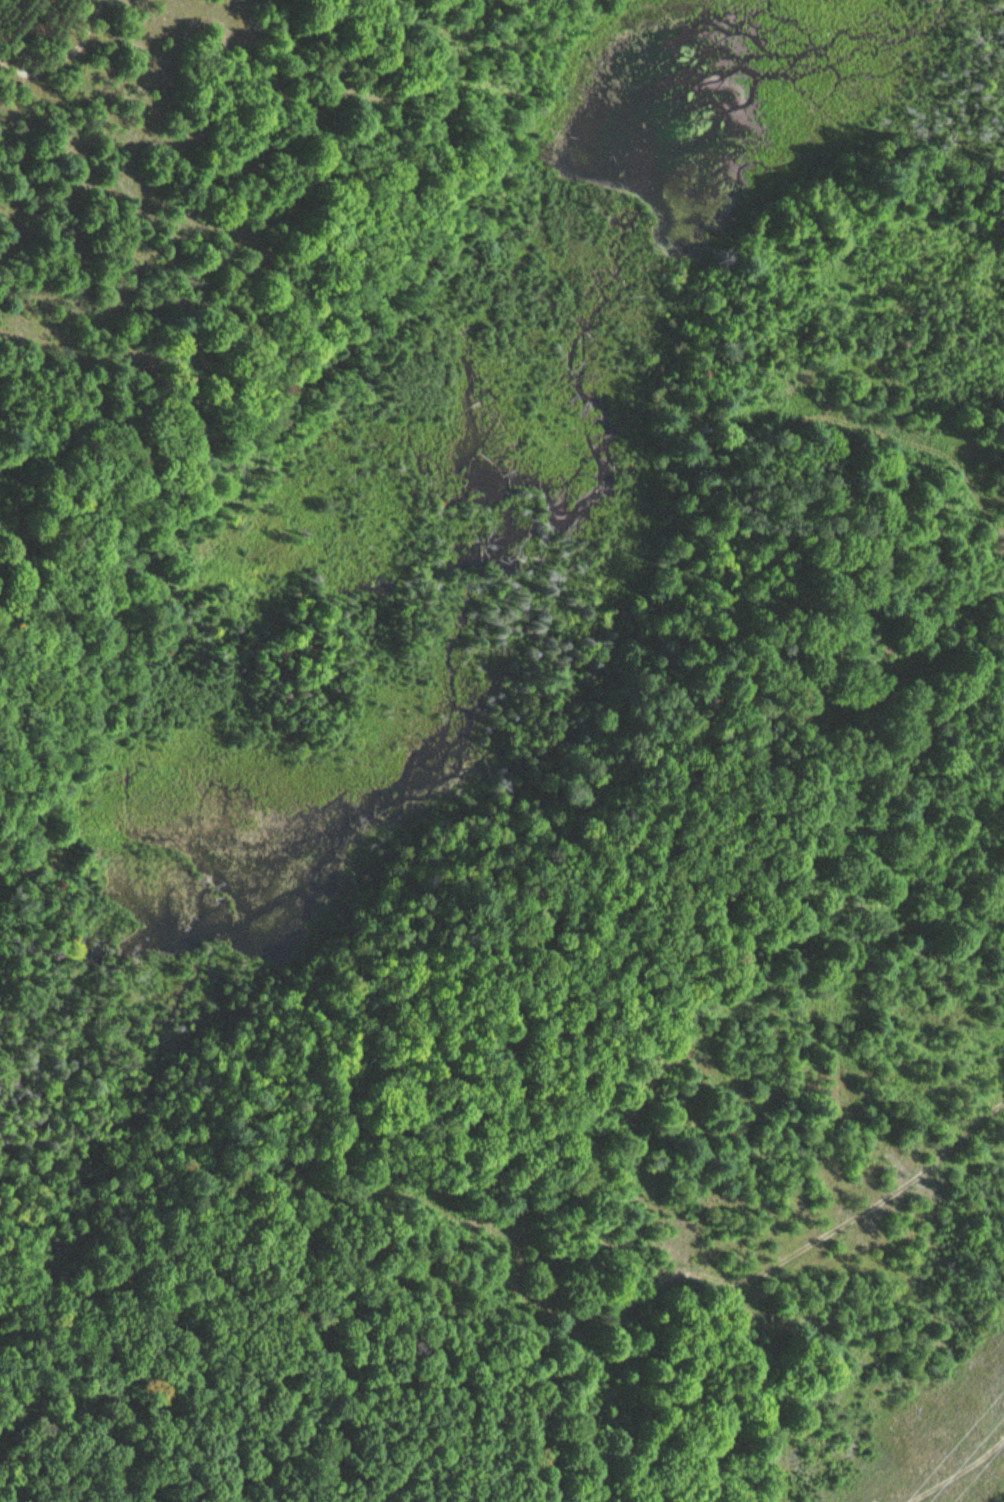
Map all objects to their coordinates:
river: (511, 489)

